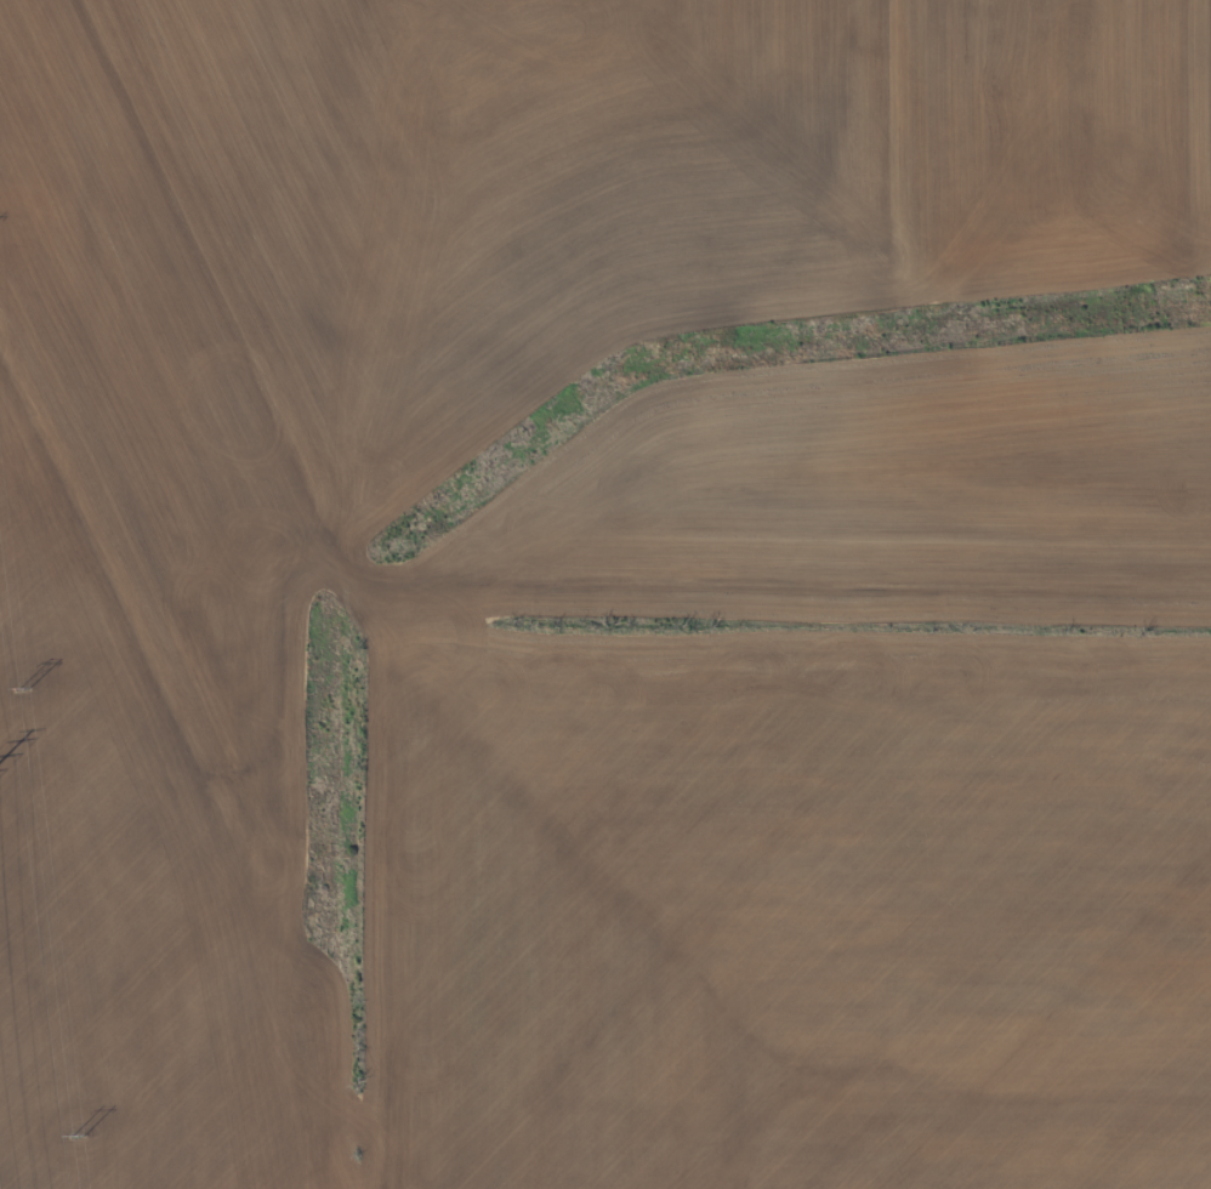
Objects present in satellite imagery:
power tower: (23, 692)
power tower: (79, 1138)

